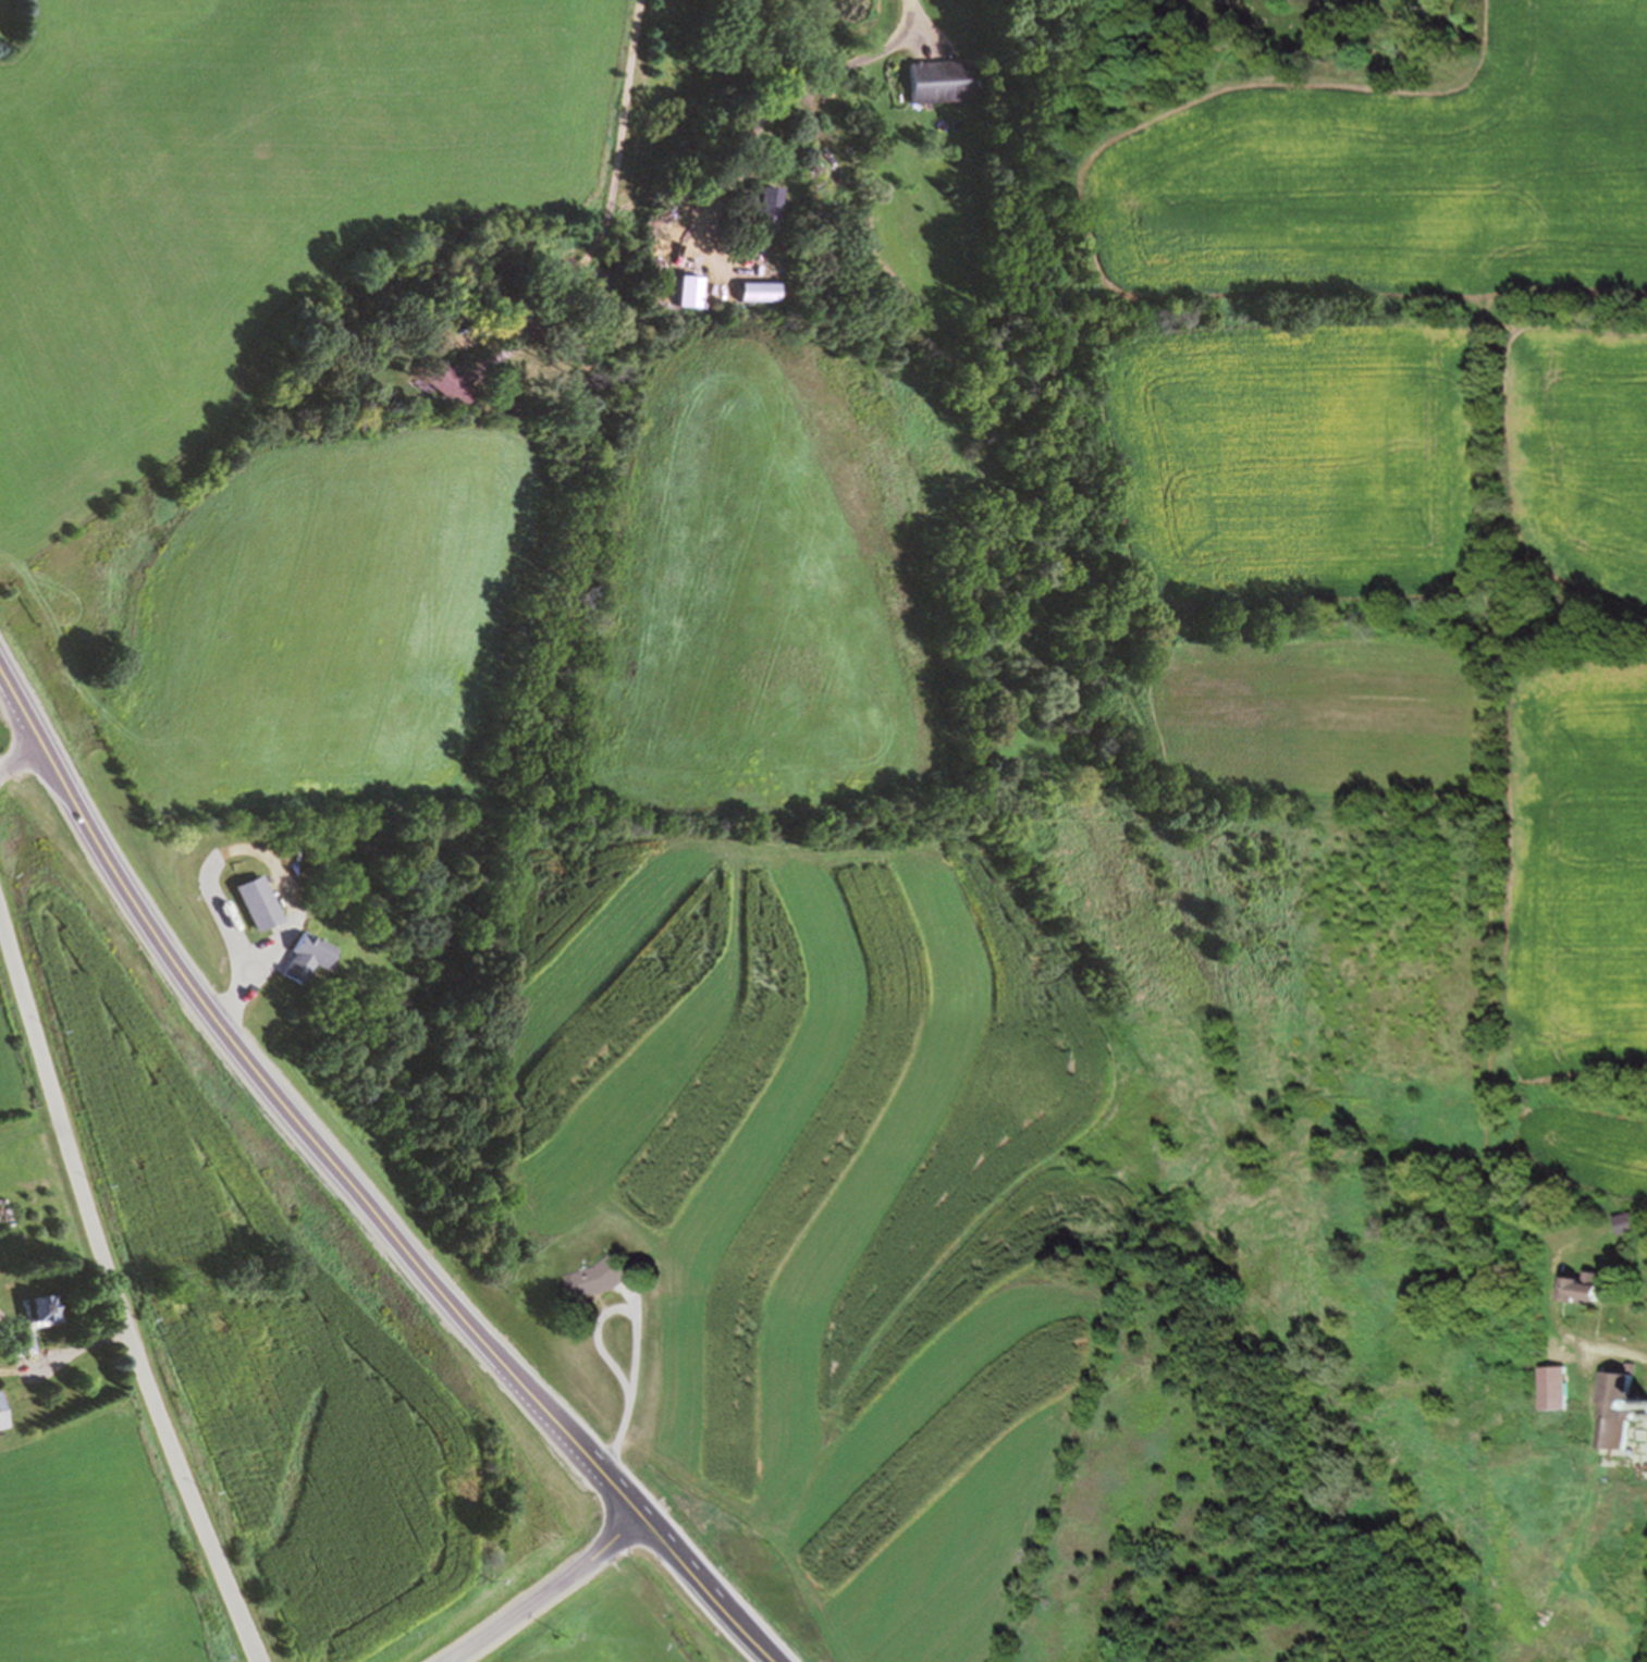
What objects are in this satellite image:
road: (1486, 30)
building: (941, 79)
road: (774, 98)
road: (607, 205)
building: (760, 206)
building: (690, 290)
building: (450, 378)
road: (21, 755)
road: (1, 768)
road: (273, 855)
building: (259, 902)
building: (308, 953)
road: (353, 1194)
building: (1632, 1222)
building: (600, 1278)
building: (1587, 1284)
road: (116, 1296)
building: (42, 1307)
road: (640, 1325)
building: (21, 1343)
road: (64, 1352)
building: (1559, 1383)
building: (1625, 1409)
building: (2, 1415)
road: (545, 1591)

